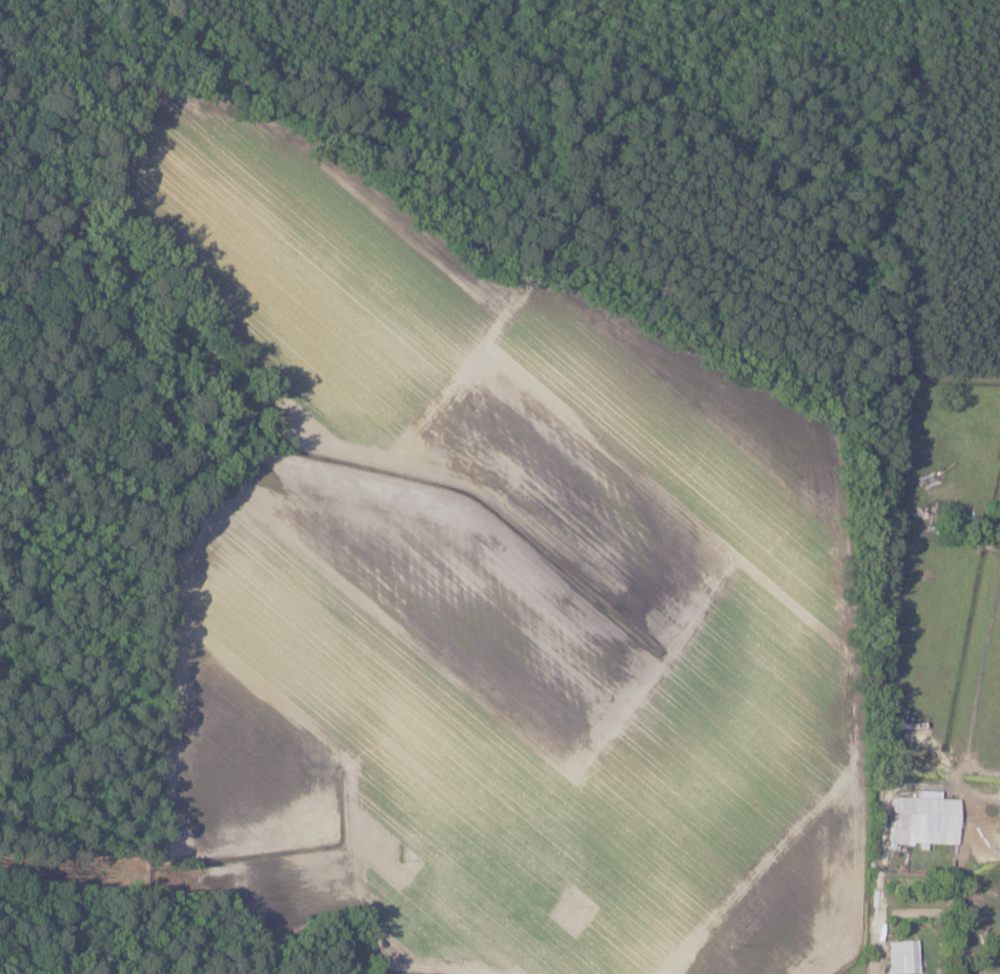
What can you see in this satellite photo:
building: (924, 820)
road: (884, 843)
road: (876, 922)
building: (903, 956)

